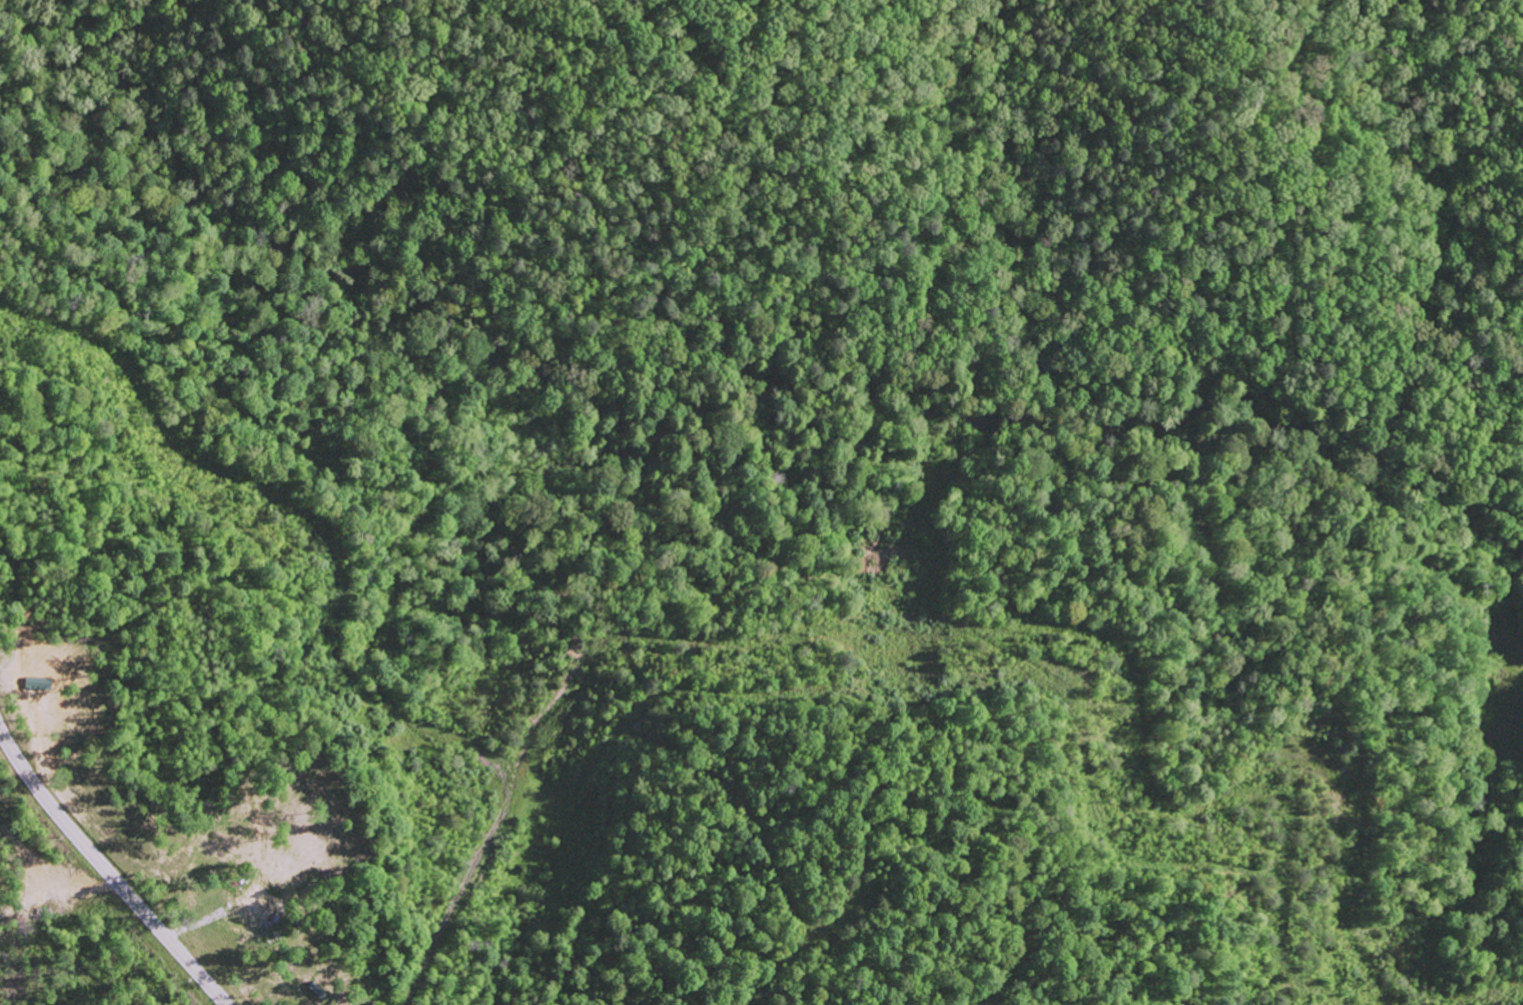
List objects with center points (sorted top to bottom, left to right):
building: (34, 683)
road: (107, 868)
road: (46, 874)
building: (255, 897)

